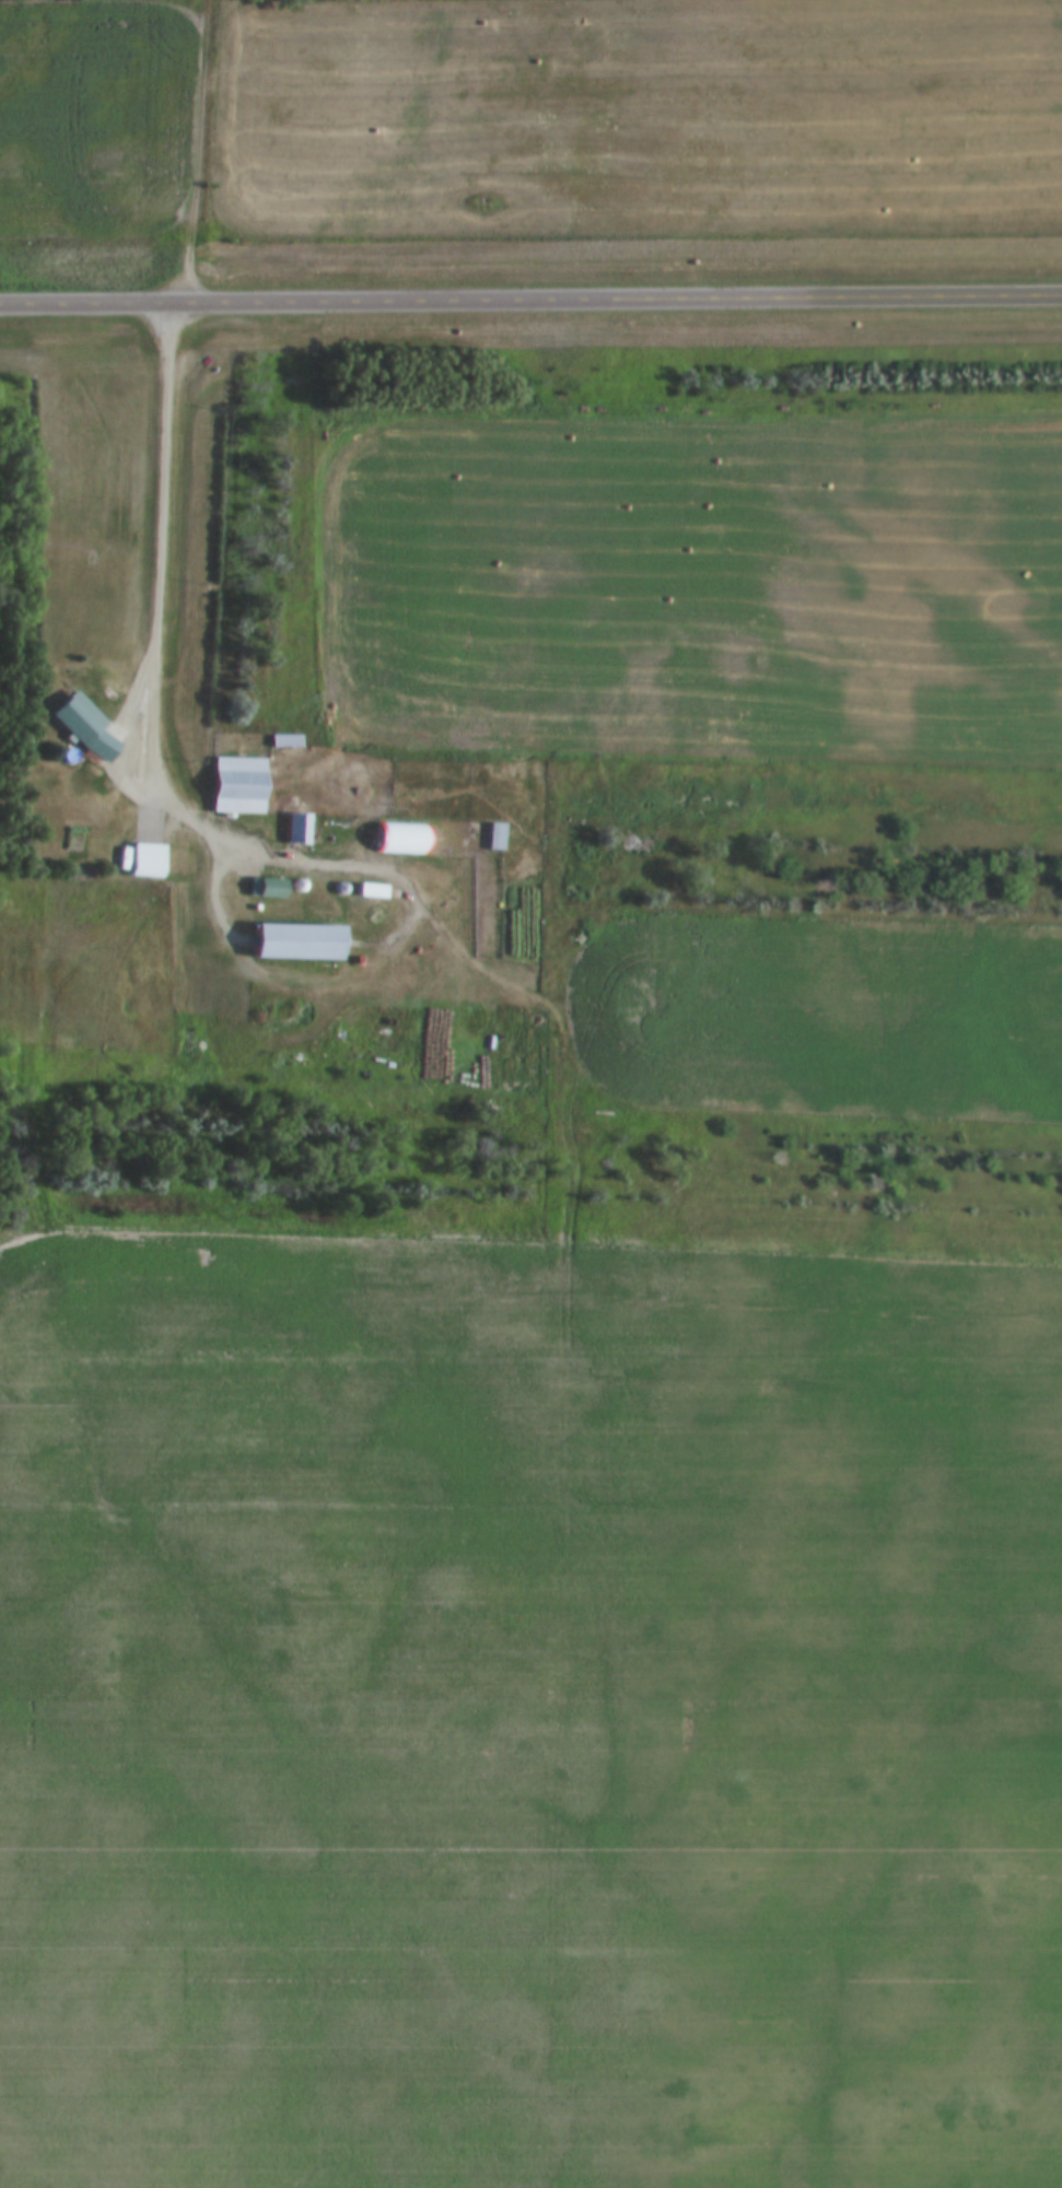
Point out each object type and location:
road: (199, 151)
road: (530, 297)
road: (157, 630)
building: (85, 728)
building: (284, 741)
building: (237, 786)
building: (297, 829)
building: (495, 838)
building: (145, 861)
building: (270, 890)
building: (294, 944)

